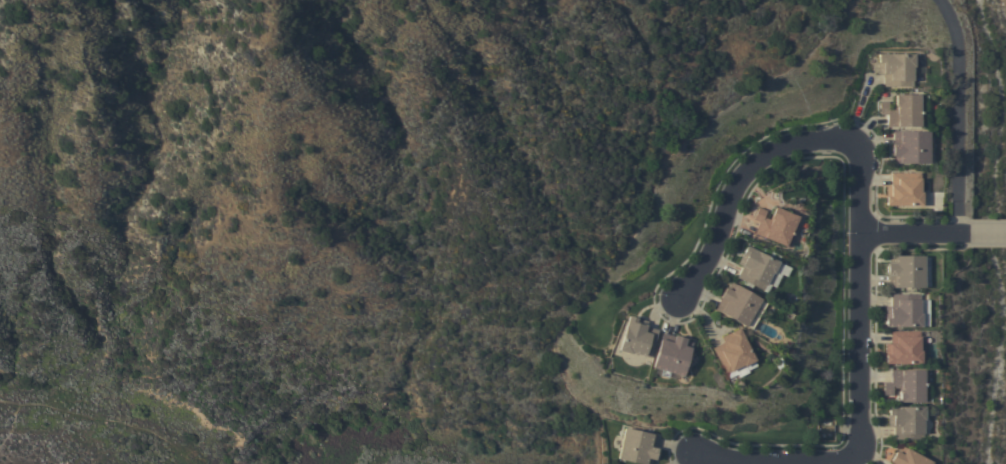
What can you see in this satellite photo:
building: (897, 69)
building: (903, 111)
road: (959, 115)
building: (911, 148)
road: (768, 152)
building: (904, 190)
building: (775, 225)
road: (914, 234)
road: (988, 234)
building: (756, 268)
building: (906, 271)
building: (740, 305)
building: (904, 311)
building: (638, 337)
building: (904, 348)
building: (733, 351)
building: (671, 355)
building: (907, 385)
building: (907, 421)
road: (857, 423)
building: (637, 447)
building: (908, 457)

